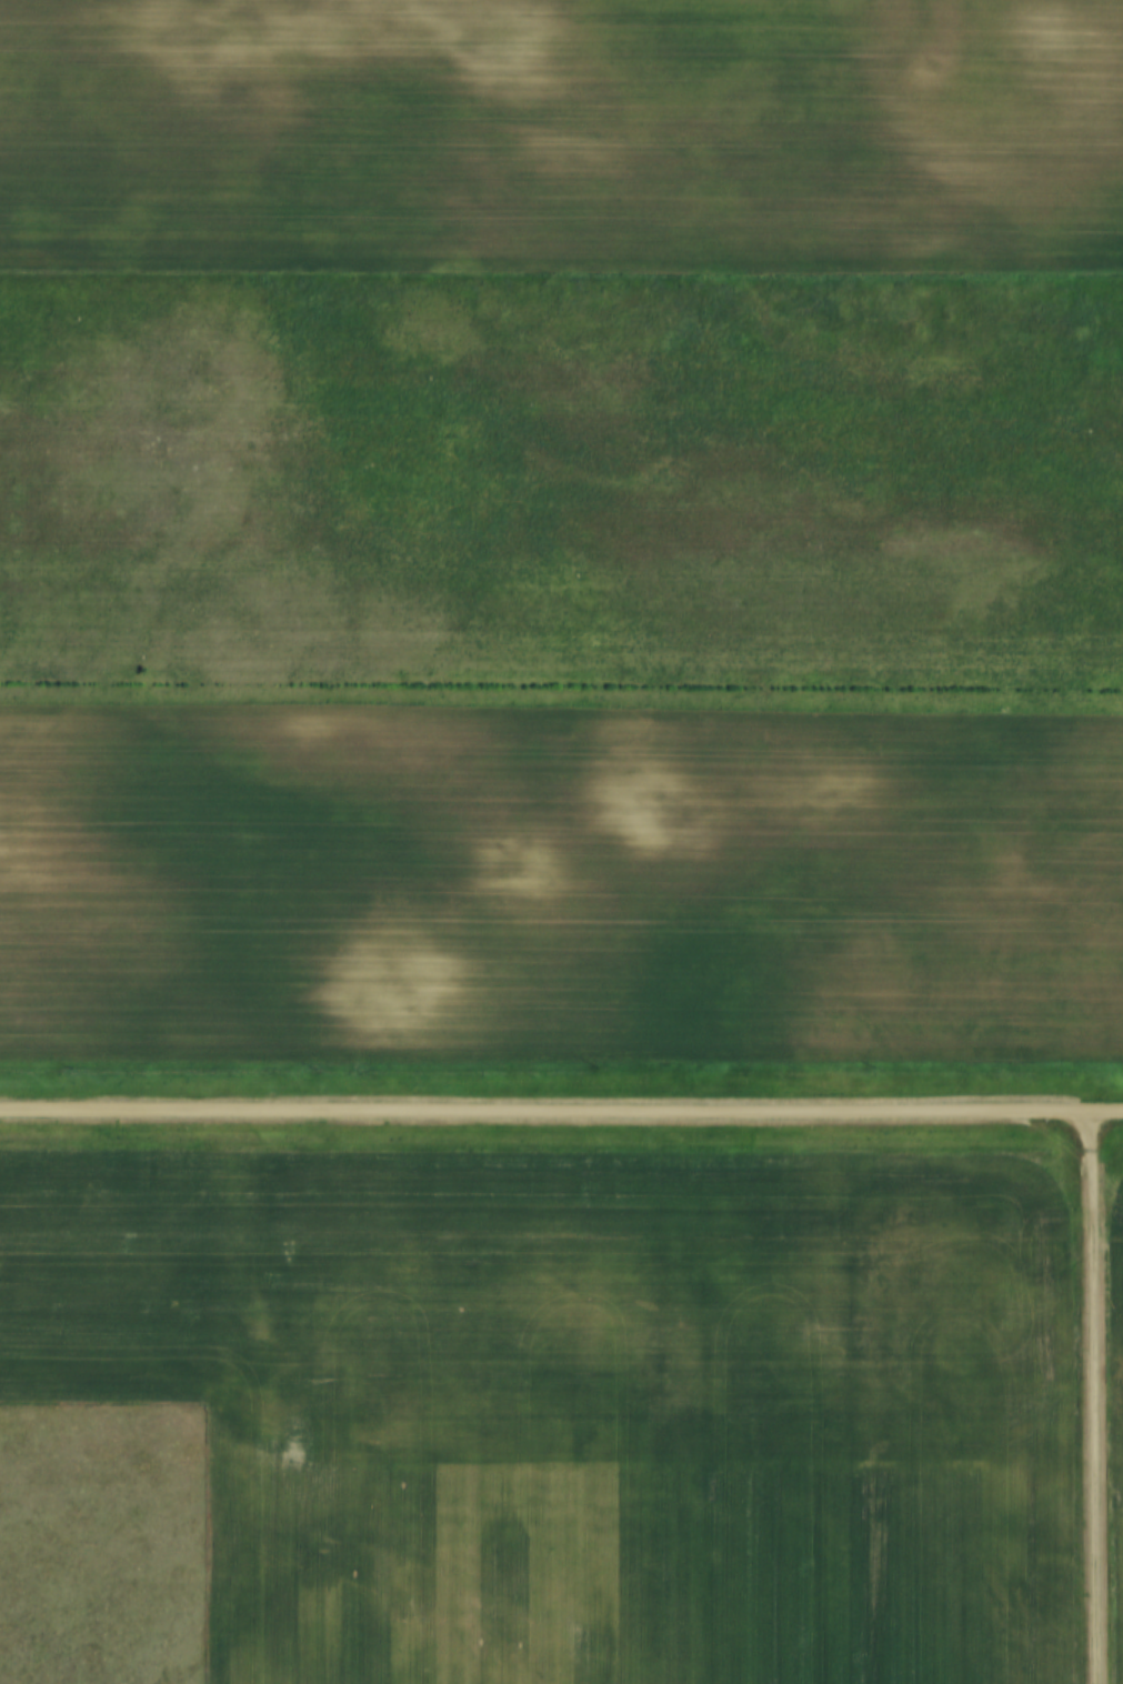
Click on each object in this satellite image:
road: (561, 1116)
road: (1093, 1401)

